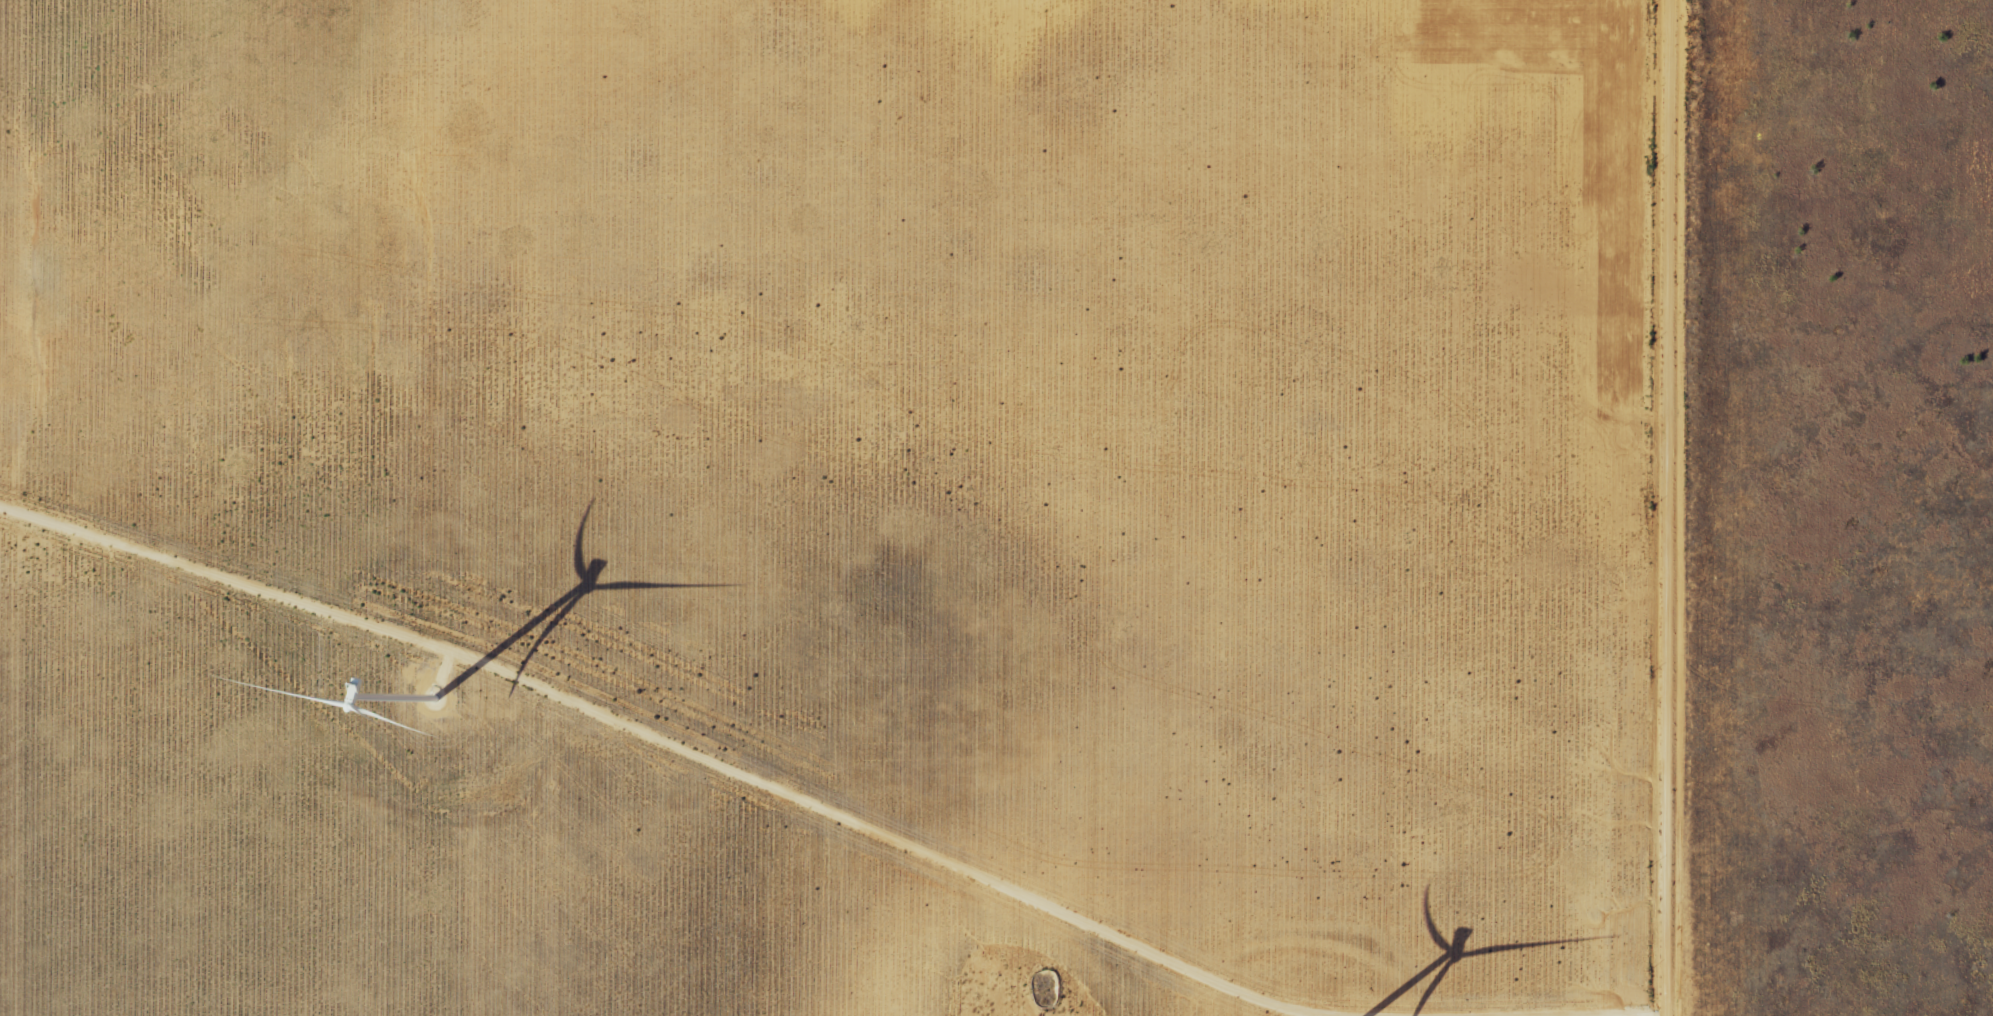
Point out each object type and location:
road: (1710, 508)
wind turbine: (426, 700)

